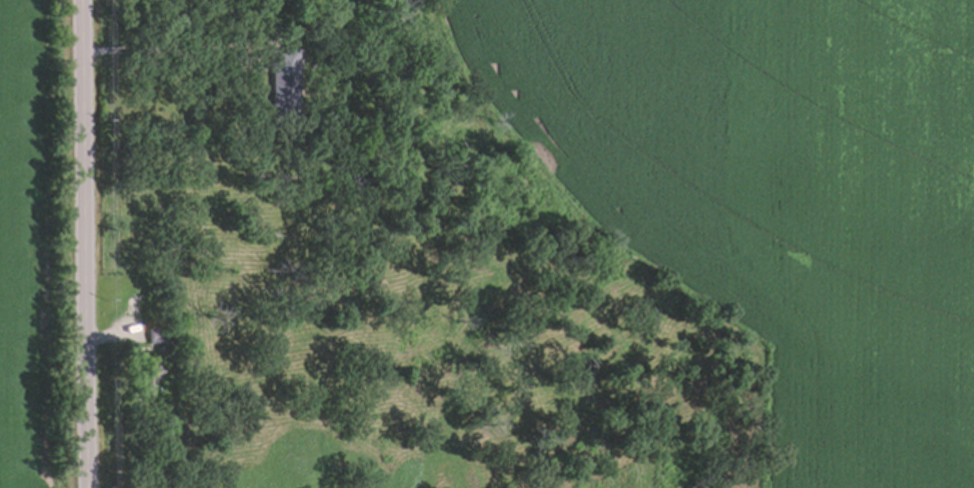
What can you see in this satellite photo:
road: (154, 50)
building: (282, 81)
road: (80, 244)
building: (158, 333)
building: (157, 339)
building: (146, 375)

